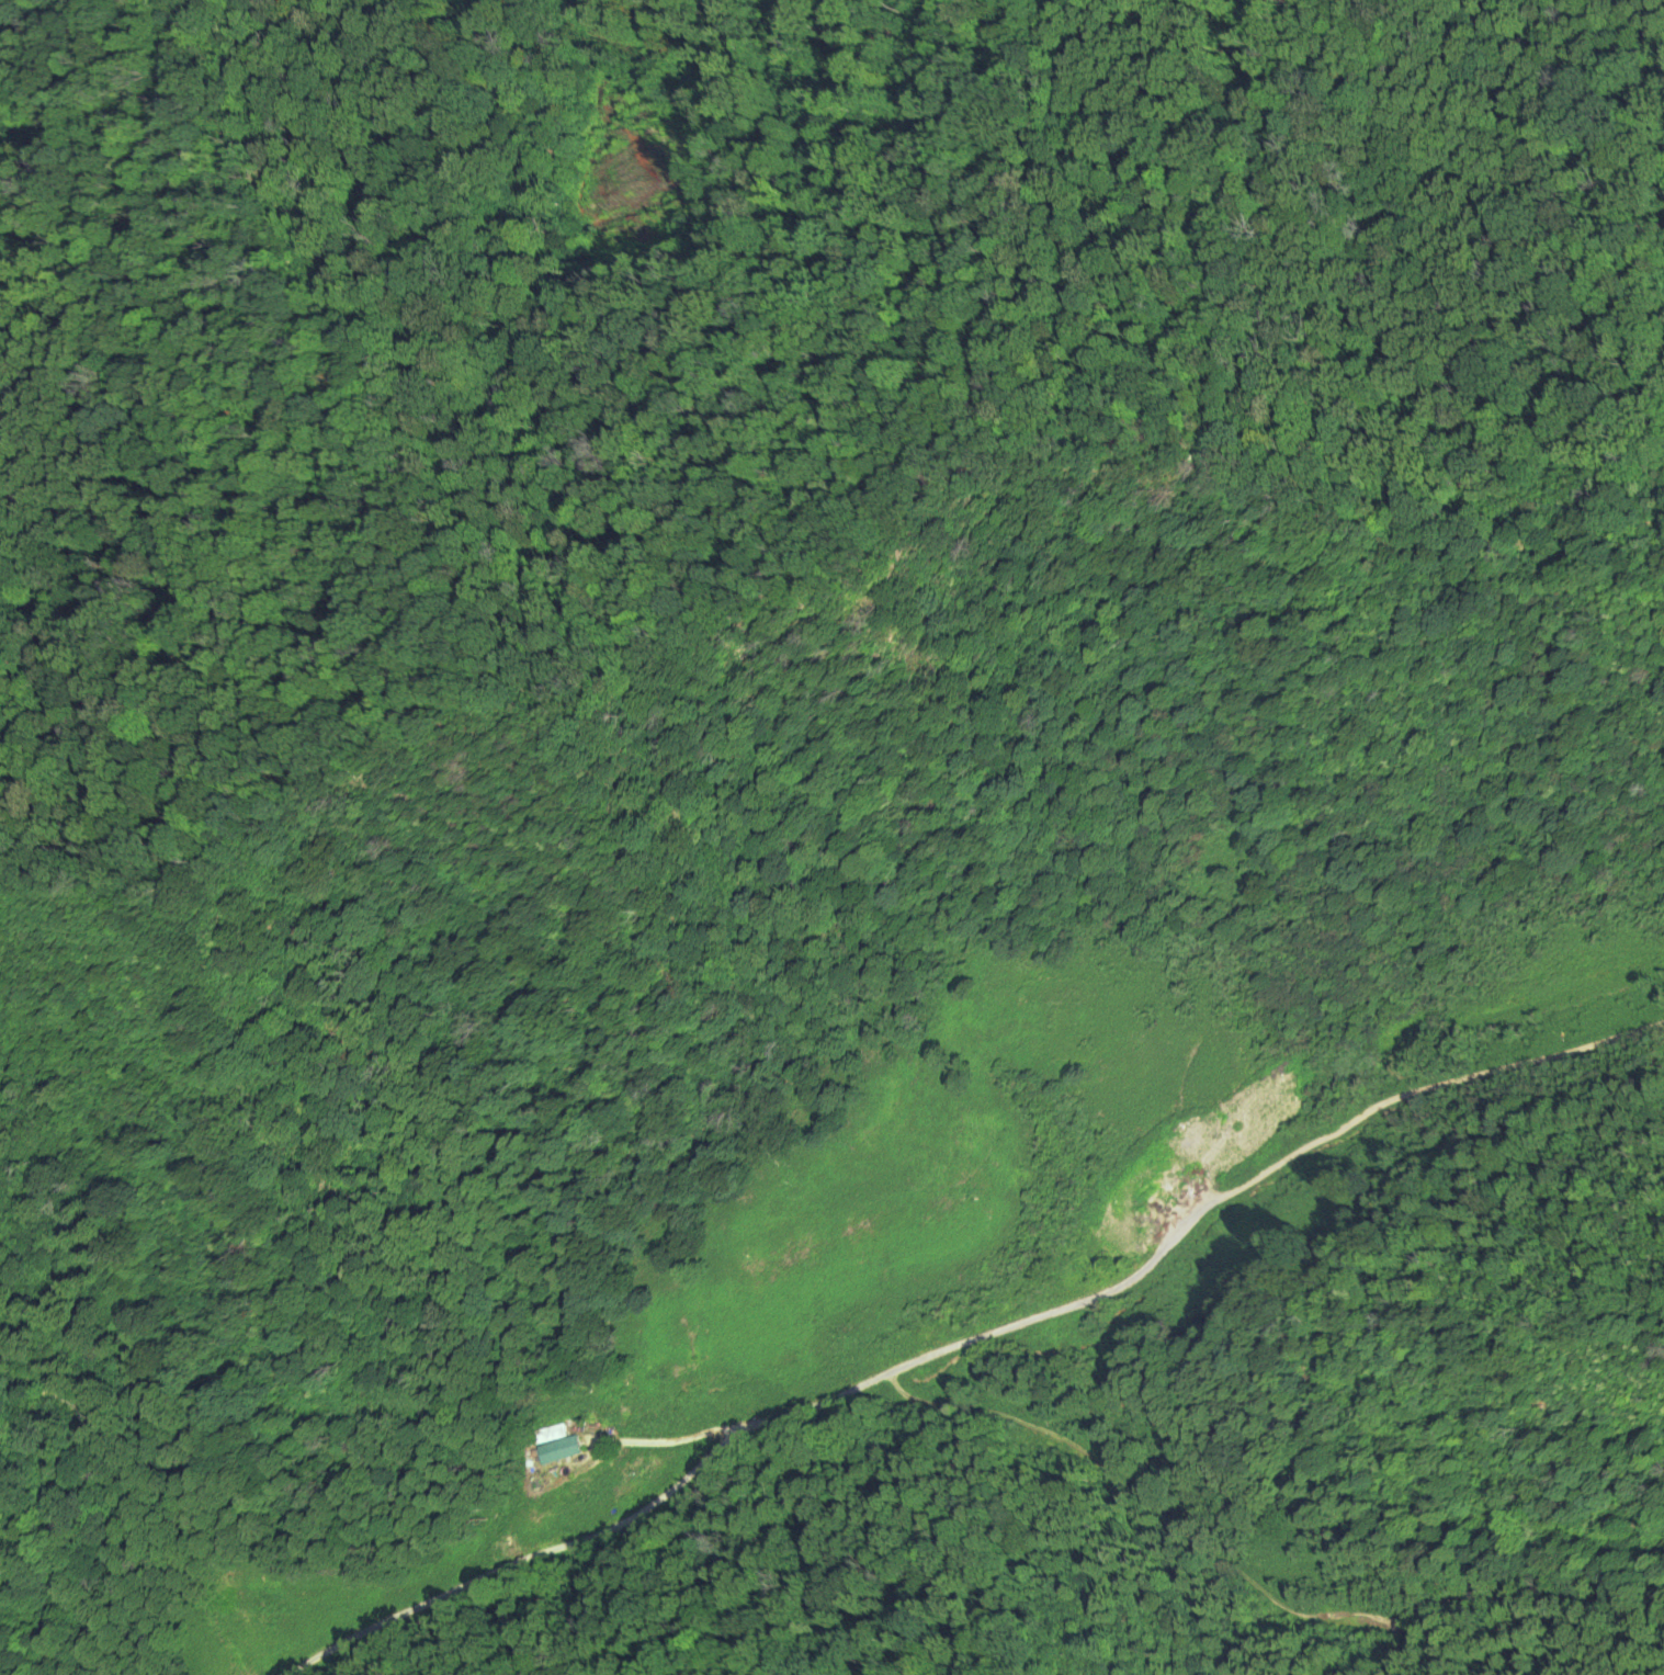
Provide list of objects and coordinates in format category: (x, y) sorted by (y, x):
road: (701, 1402)

